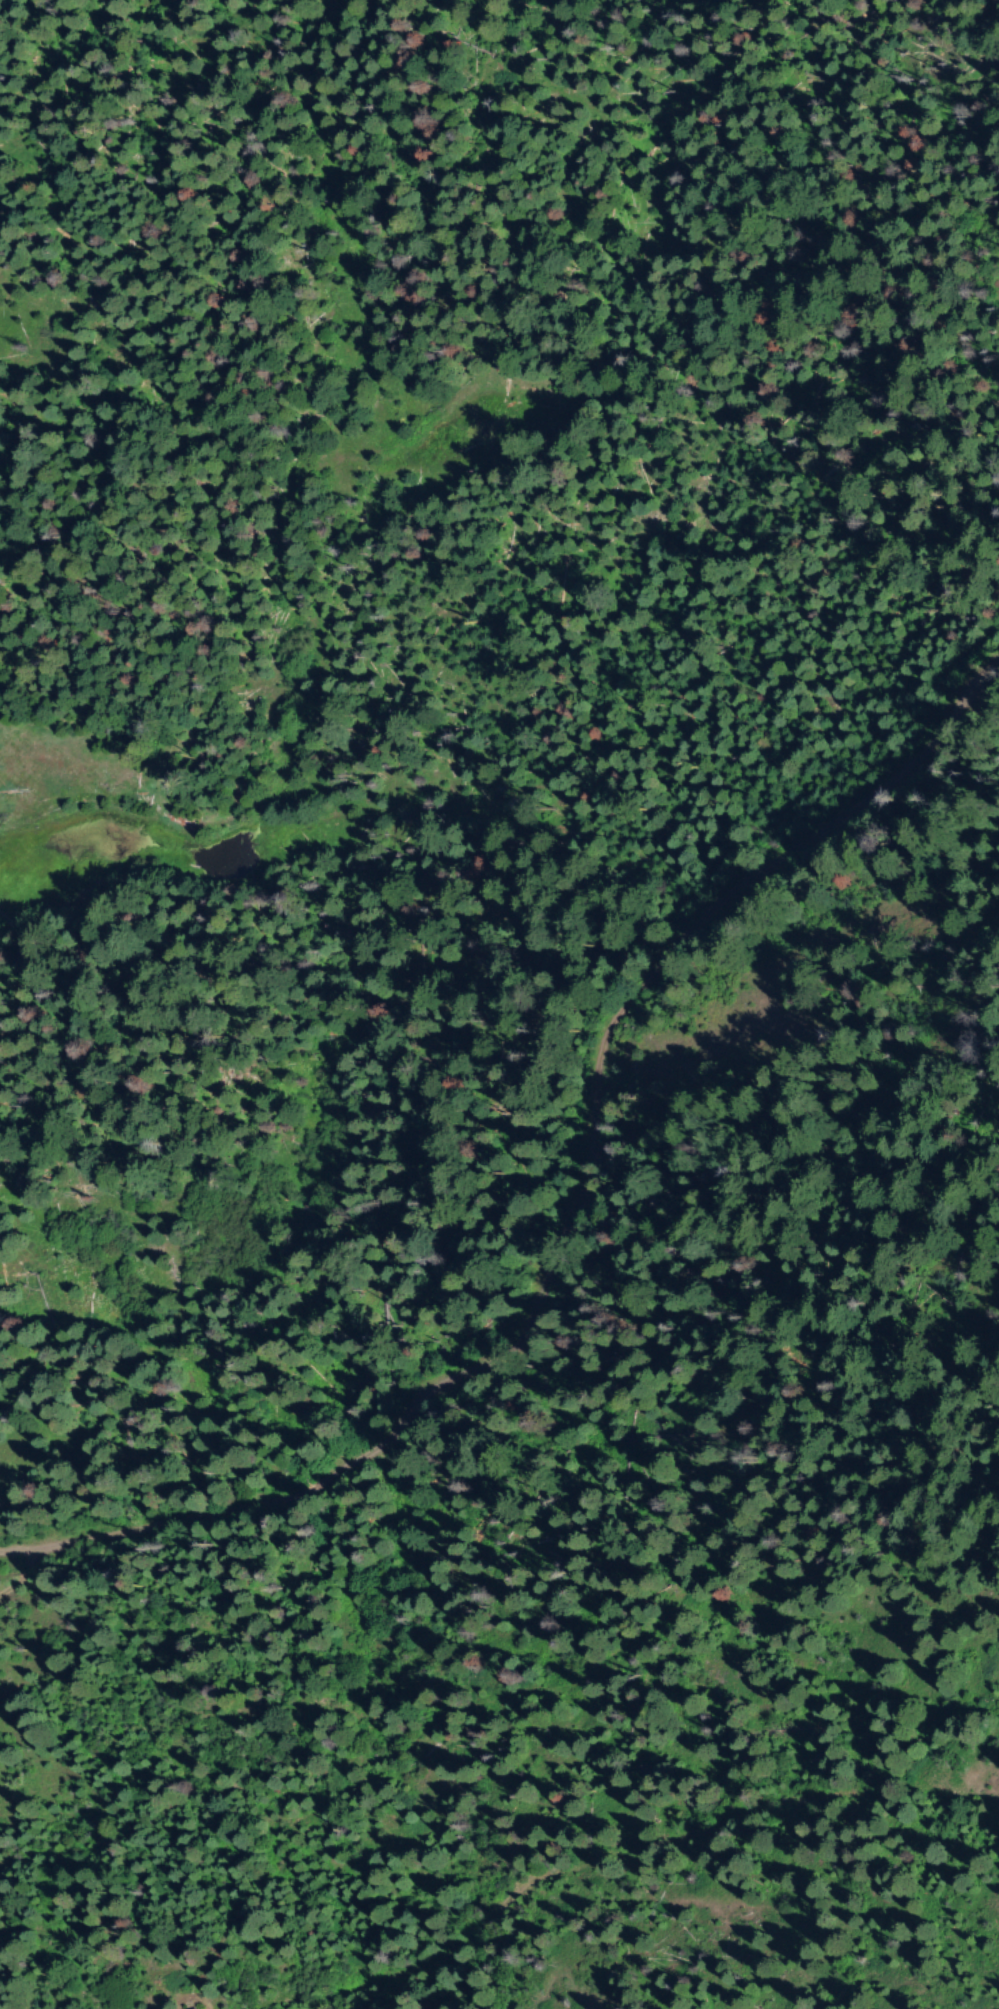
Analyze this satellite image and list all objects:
building: (199, 2008)

